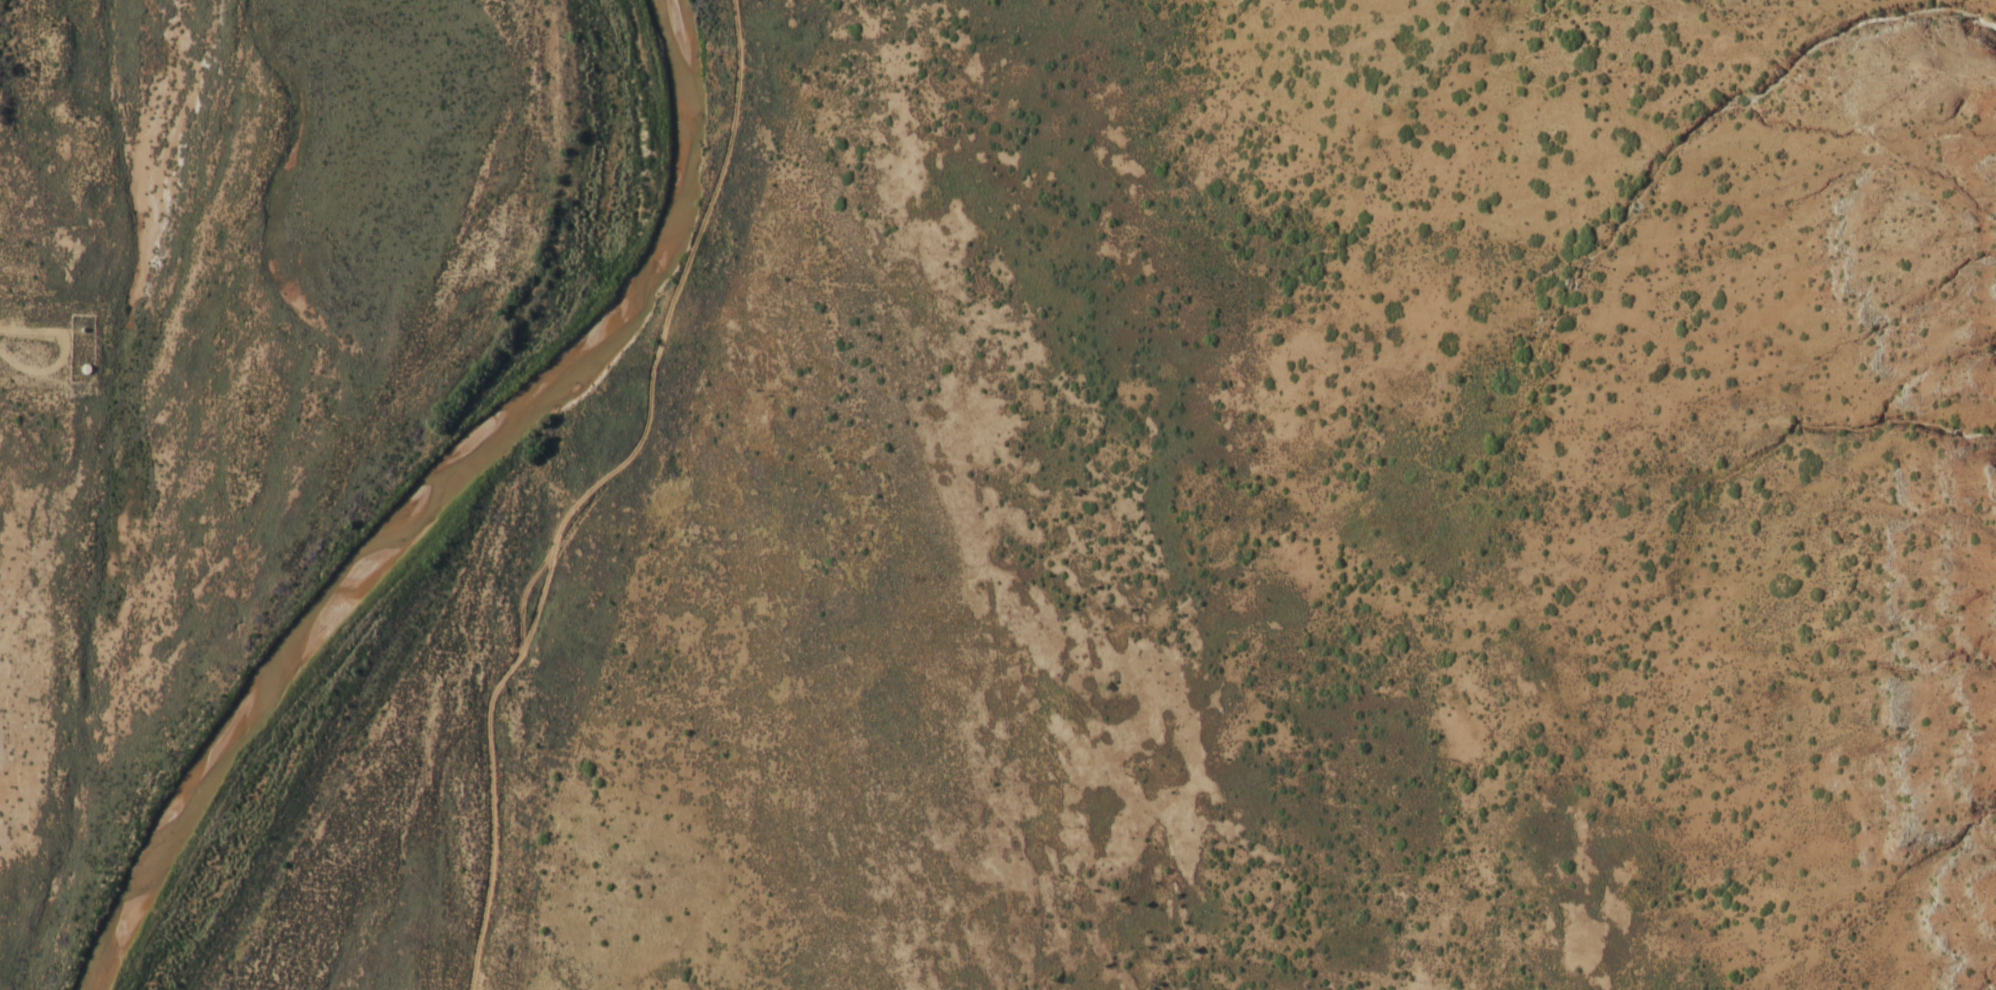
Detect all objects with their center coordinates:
road: (596, 494)
river: (427, 507)

